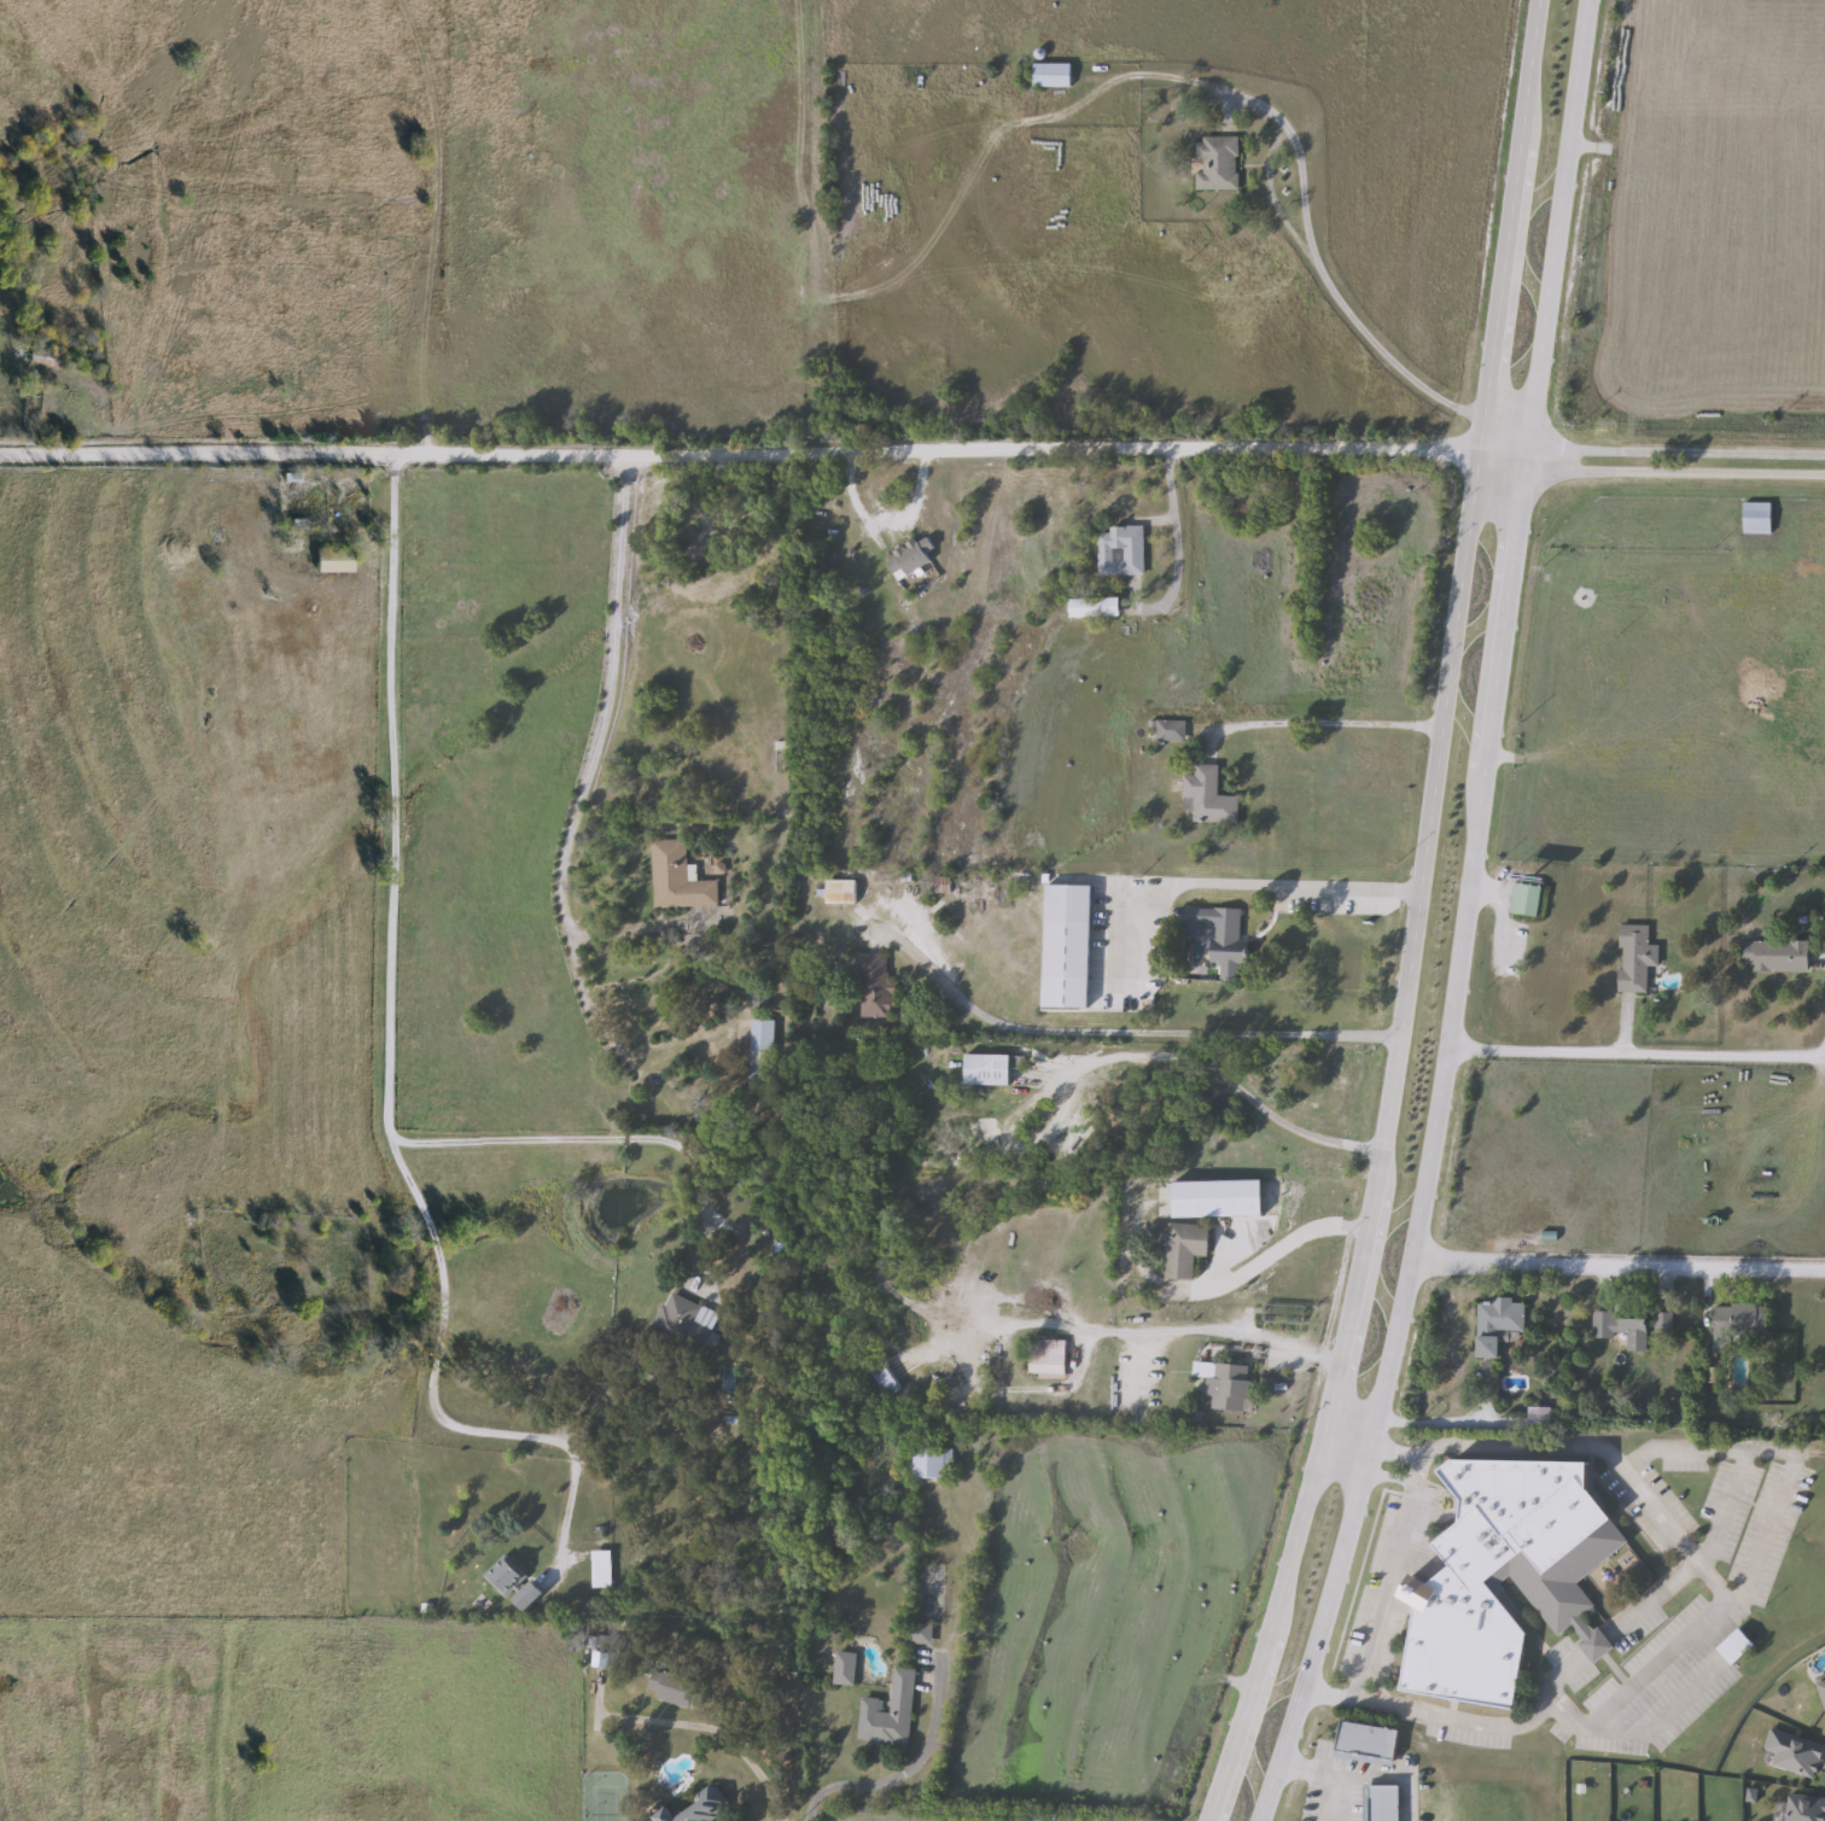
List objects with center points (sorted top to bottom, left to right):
building: (1050, 76)
building: (1215, 164)
road: (1343, 314)
road: (1502, 416)
road: (758, 459)
road: (1517, 465)
building: (1756, 519)
road: (1170, 531)
building: (1119, 551)
building: (910, 558)
building: (333, 561)
building: (1092, 609)
road: (1323, 724)
building: (1170, 731)
road: (593, 759)
road: (392, 794)
building: (1206, 796)
building: (676, 879)
road: (1241, 888)
building: (839, 892)
building: (1060, 897)
building: (1526, 900)
building: (1516, 910)
road: (1412, 918)
road: (1462, 920)
building: (1221, 938)
building: (1777, 956)
building: (1625, 961)
building: (871, 987)
building: (758, 999)
road: (1120, 1034)
building: (760, 1057)
road: (1635, 1057)
building: (986, 1070)
road: (1219, 1080)
road: (582, 1139)
road: (1275, 1249)
building: (1183, 1250)
road: (1616, 1268)
building: (1039, 1276)
building: (1283, 1314)
building: (1738, 1320)
building: (681, 1323)
building: (1495, 1325)
building: (1662, 1325)
building: (1621, 1329)
road: (1212, 1331)
building: (1049, 1360)
building: (884, 1381)
road: (432, 1385)
building: (1225, 1385)
building: (1538, 1416)
road: (1340, 1451)
building: (932, 1464)
road: (1748, 1570)
building: (502, 1577)
building: (1505, 1577)
road: (1377, 1583)
road: (1713, 1587)
road: (1657, 1593)
building: (526, 1597)
building: (917, 1634)
building: (1734, 1647)
road: (1656, 1663)
building: (844, 1669)
building: (1821, 1686)
building: (670, 1688)
building: (888, 1715)
building: (1366, 1743)
building: (1794, 1753)
road: (696, 1762)
road: (1362, 1774)
road: (884, 1784)
road: (1313, 1798)
building: (1383, 1804)
building: (700, 1808)
building: (1804, 1808)

